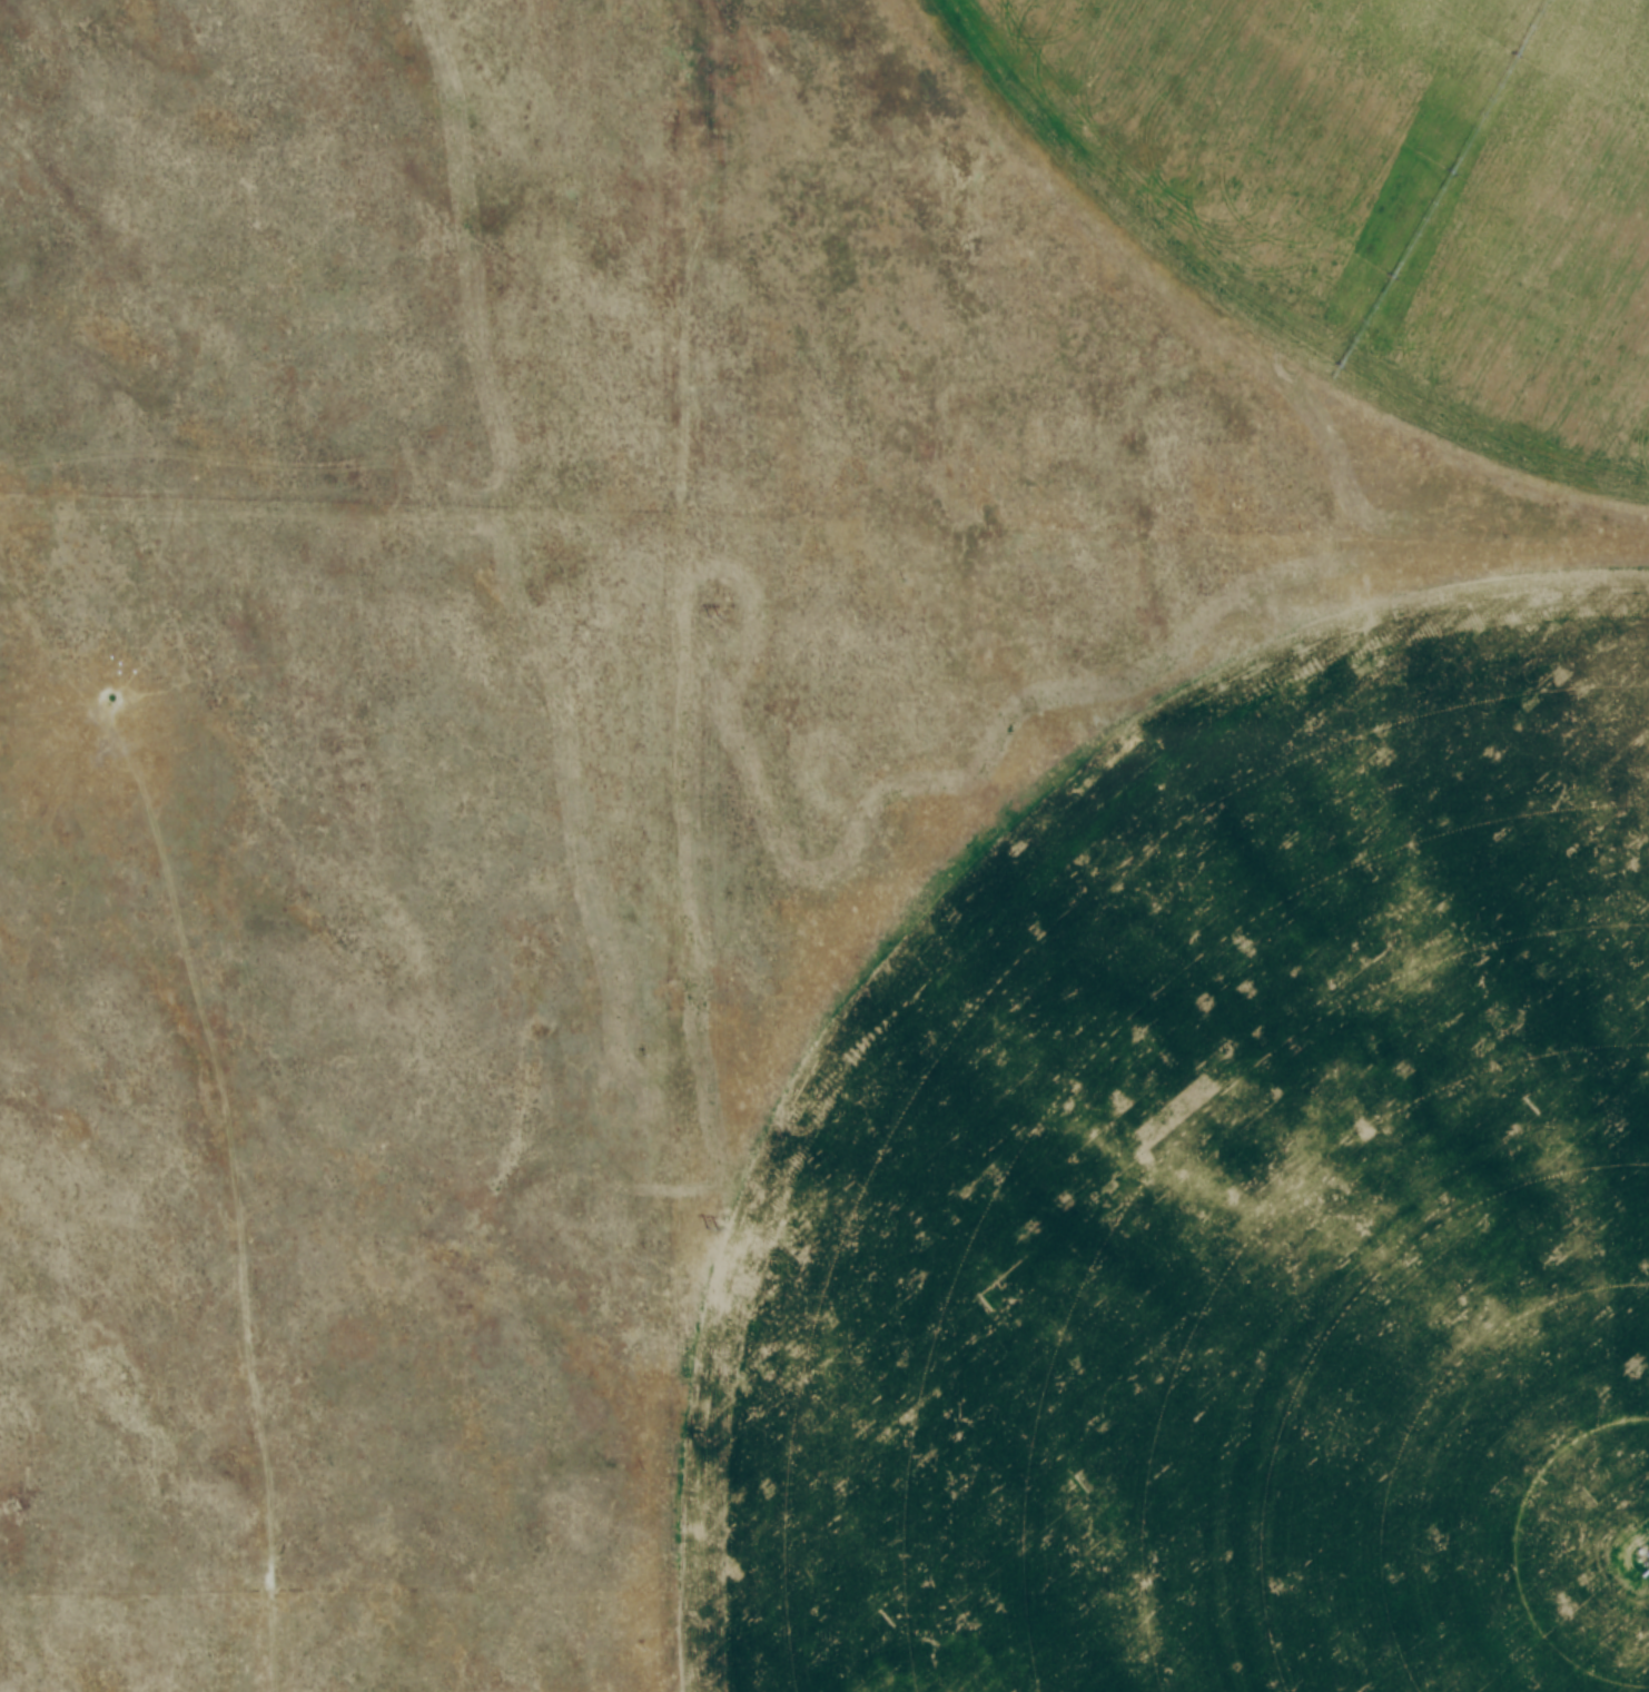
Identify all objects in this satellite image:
crop: (1370, 200)
power tower: (712, 617)
road: (223, 1110)
crop: (1221, 1203)
power tower: (710, 1230)

